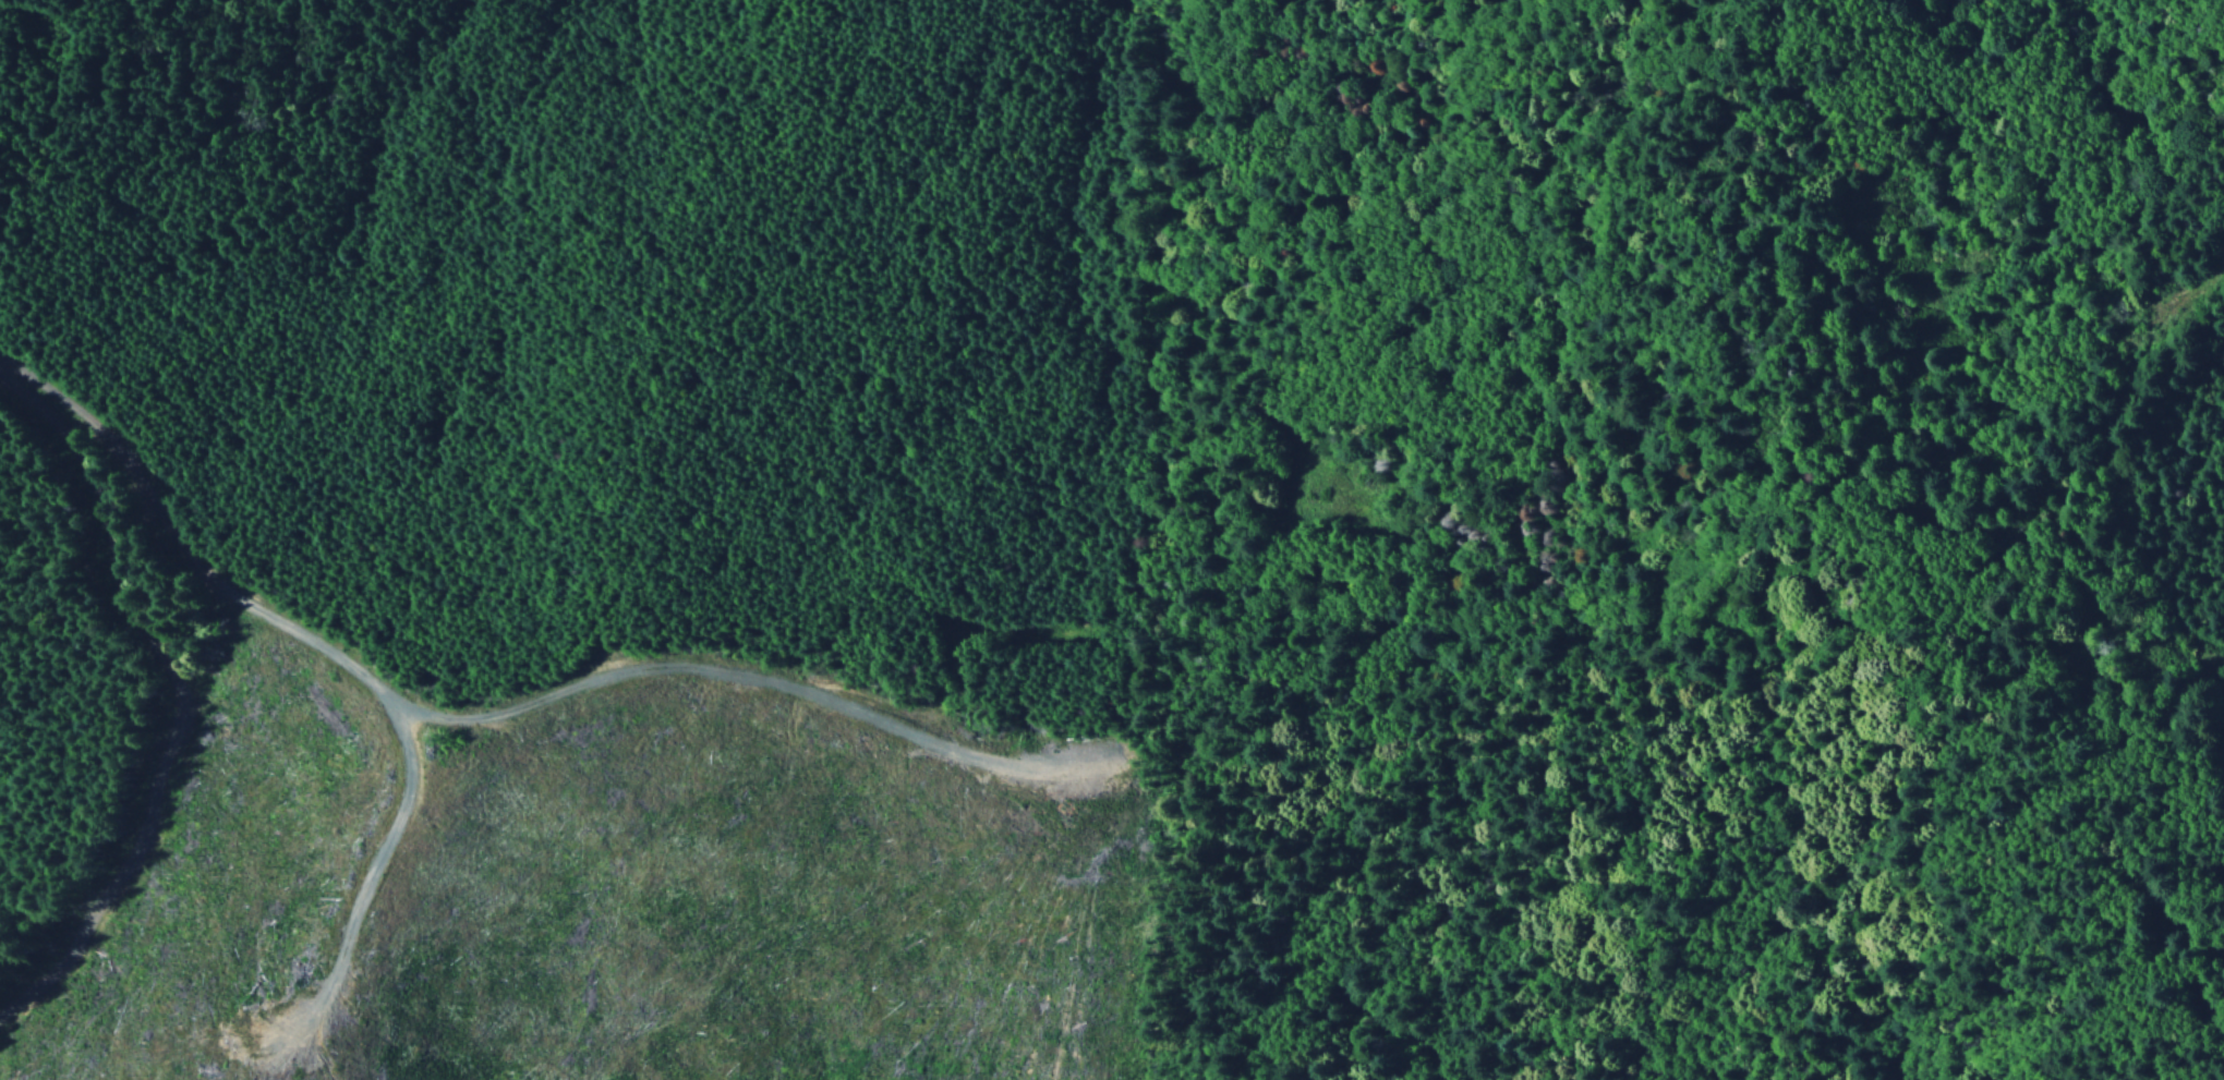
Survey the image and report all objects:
road: (161, 752)

